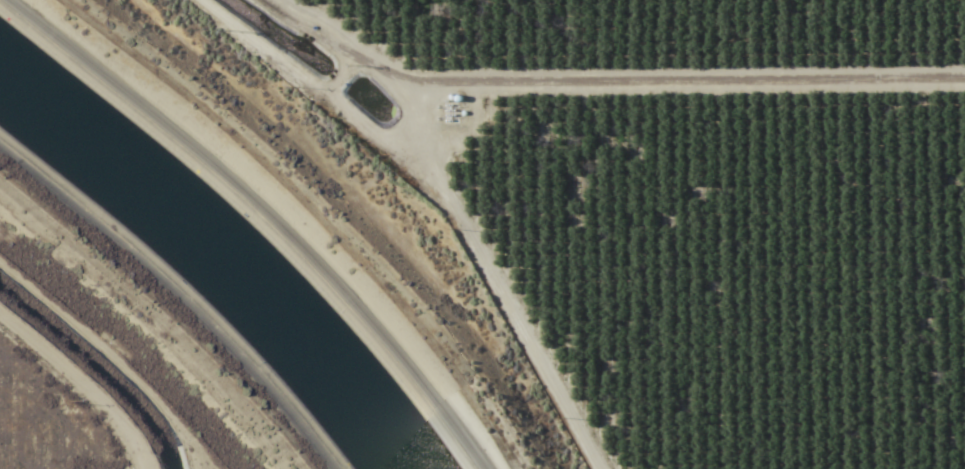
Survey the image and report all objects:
road: (301, 215)
road: (176, 298)

